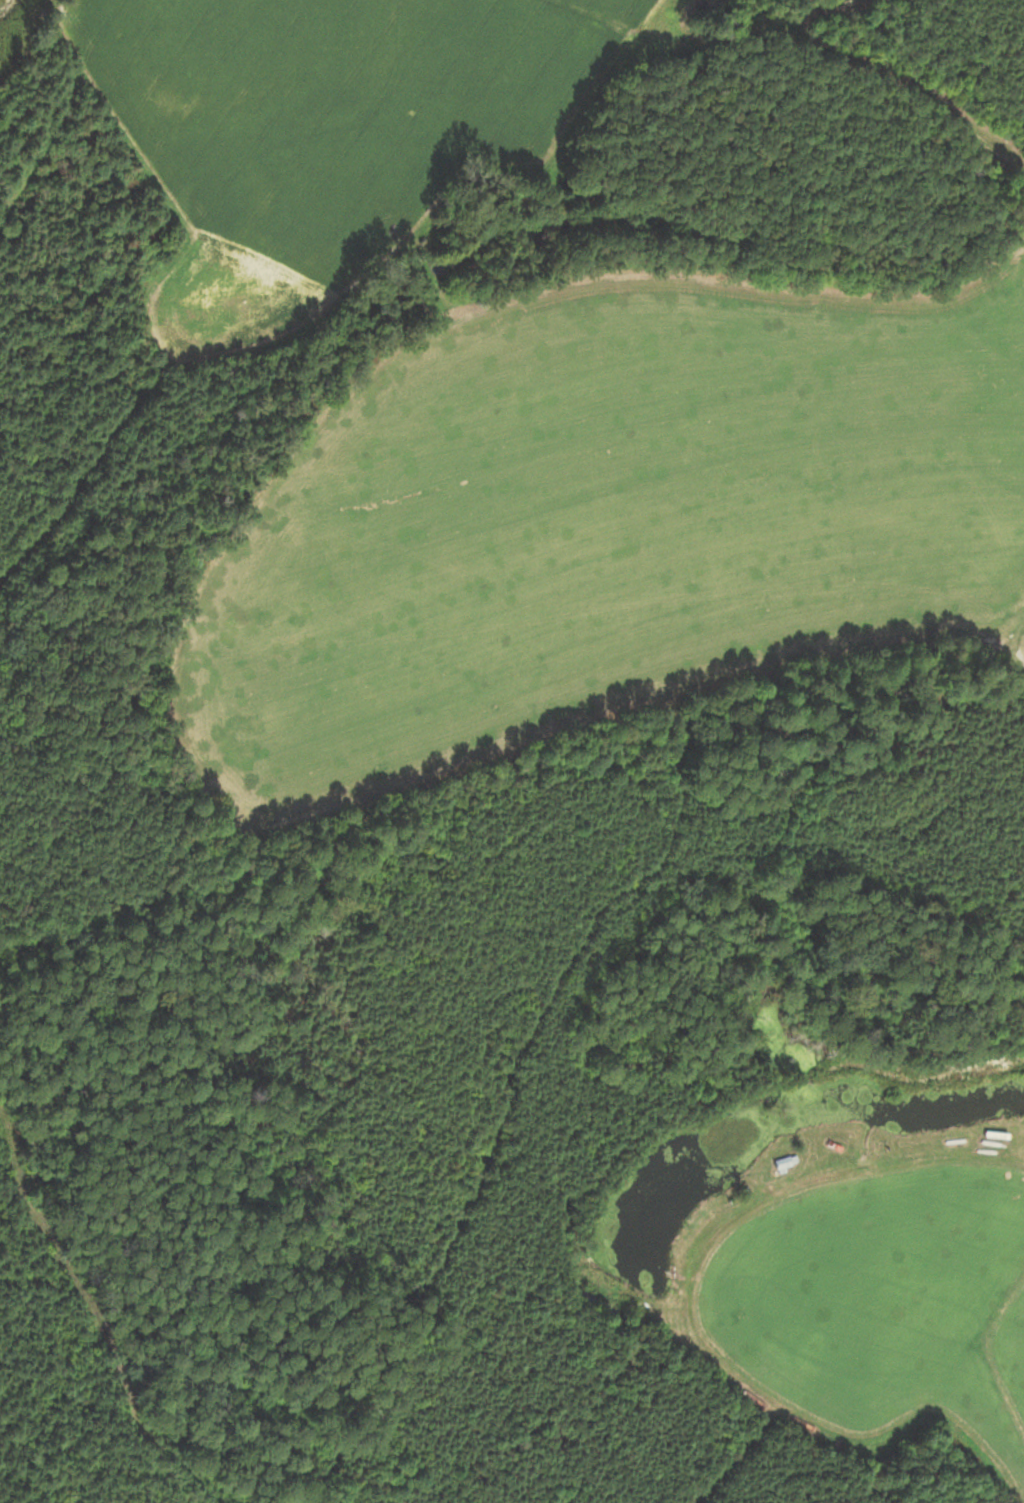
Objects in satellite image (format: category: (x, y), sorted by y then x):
building: (780, 1165)

